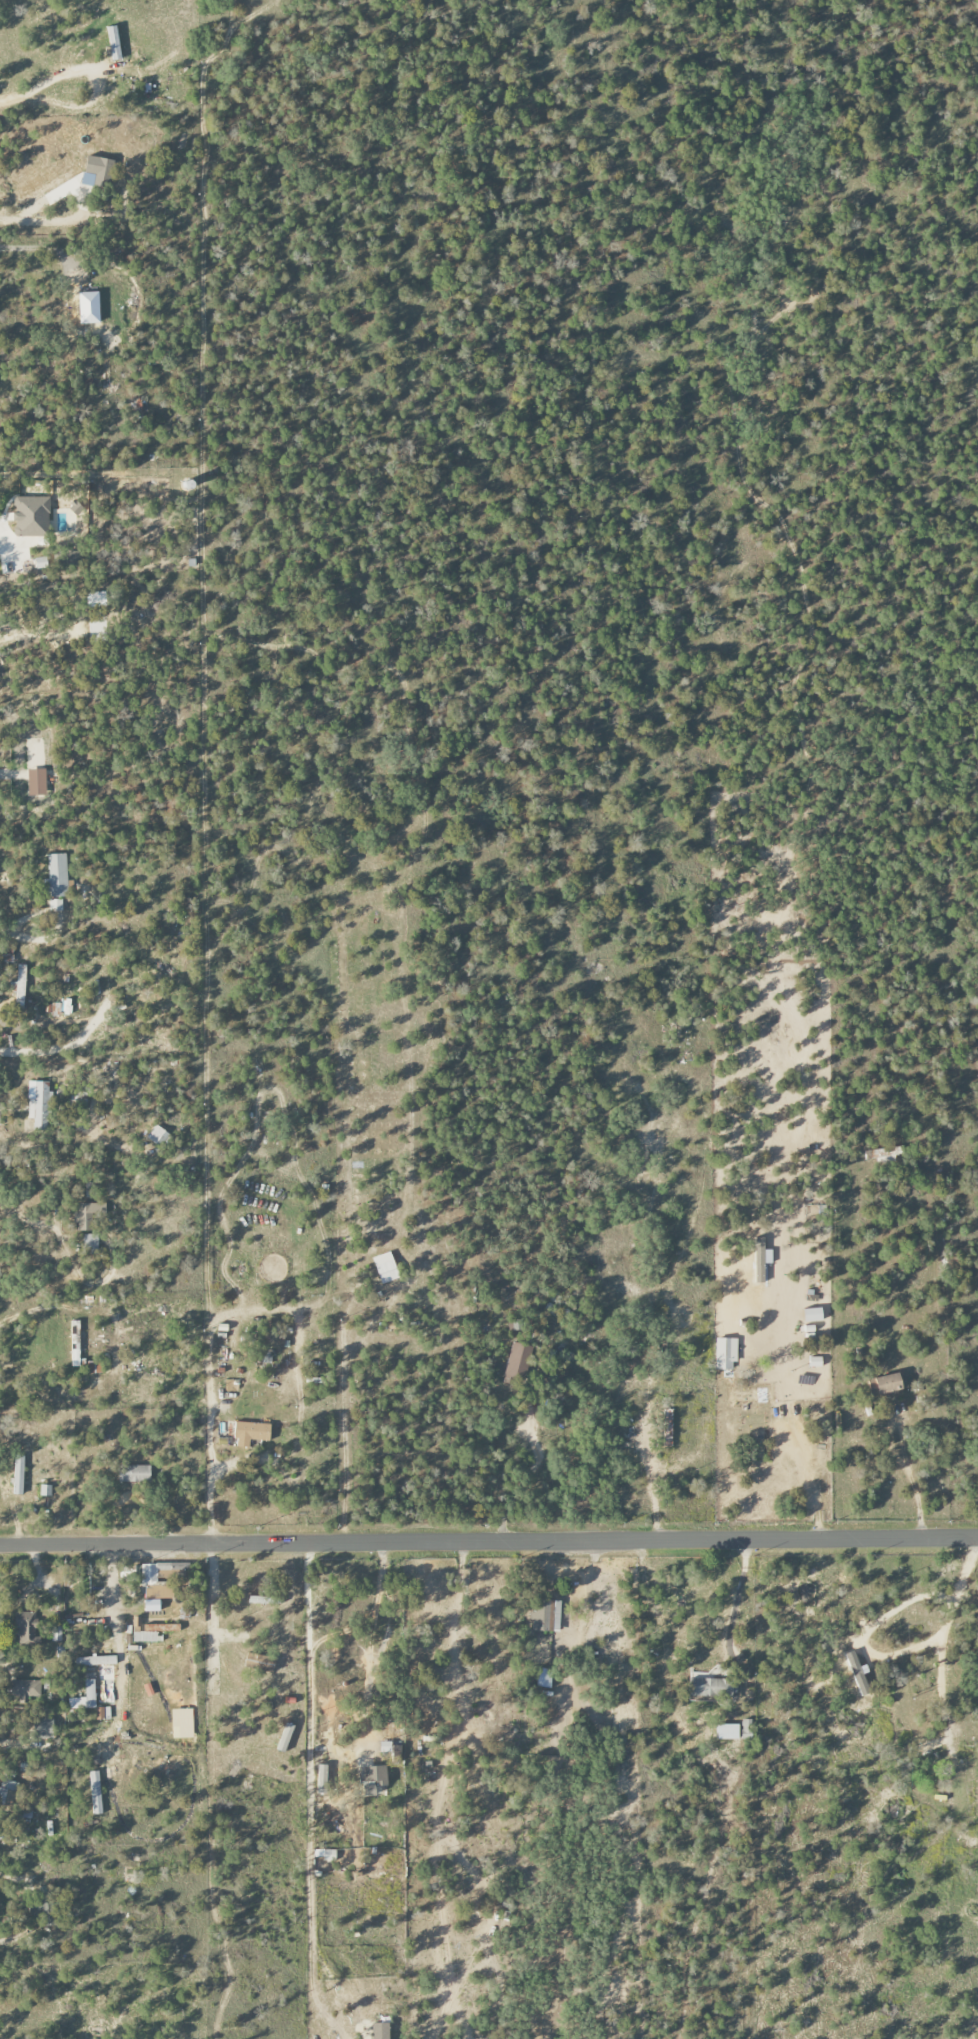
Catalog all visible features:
road: (95, 85)
road: (9, 98)
building: (99, 170)
building: (31, 517)
road: (2, 531)
road: (12, 774)
building: (36, 782)
building: (57, 875)
building: (55, 905)
road: (55, 925)
road: (1, 931)
building: (20, 987)
road: (96, 1079)
building: (38, 1104)
road: (6, 1108)
building: (157, 1135)
building: (86, 1217)
building: (90, 1243)
building: (760, 1259)
road: (69, 1261)
building: (385, 1267)
road: (286, 1303)
building: (812, 1315)
road: (115, 1347)
building: (78, 1350)
building: (725, 1354)
building: (517, 1363)
building: (884, 1384)
building: (251, 1433)
road: (903, 1461)
road: (809, 1465)
road: (647, 1467)
building: (134, 1474)
building: (18, 1475)
road: (530, 1475)
building: (45, 1490)
road: (489, 1544)
building: (148, 1573)
road: (736, 1597)
building: (261, 1600)
building: (151, 1605)
road: (212, 1613)
building: (545, 1615)
building: (136, 1623)
building: (26, 1627)
building: (153, 1632)
building: (56, 1634)
road: (942, 1644)
road: (375, 1645)
building: (95, 1661)
building: (259, 1662)
building: (543, 1678)
building: (712, 1688)
building: (25, 1690)
building: (84, 1697)
building: (182, 1723)
building: (747, 1728)
building: (727, 1731)
building: (285, 1737)
building: (94, 1760)
building: (373, 1778)
building: (322, 1779)
building: (95, 1793)
building: (8, 1794)
building: (329, 1855)
road: (14, 1878)
building: (380, 2030)

